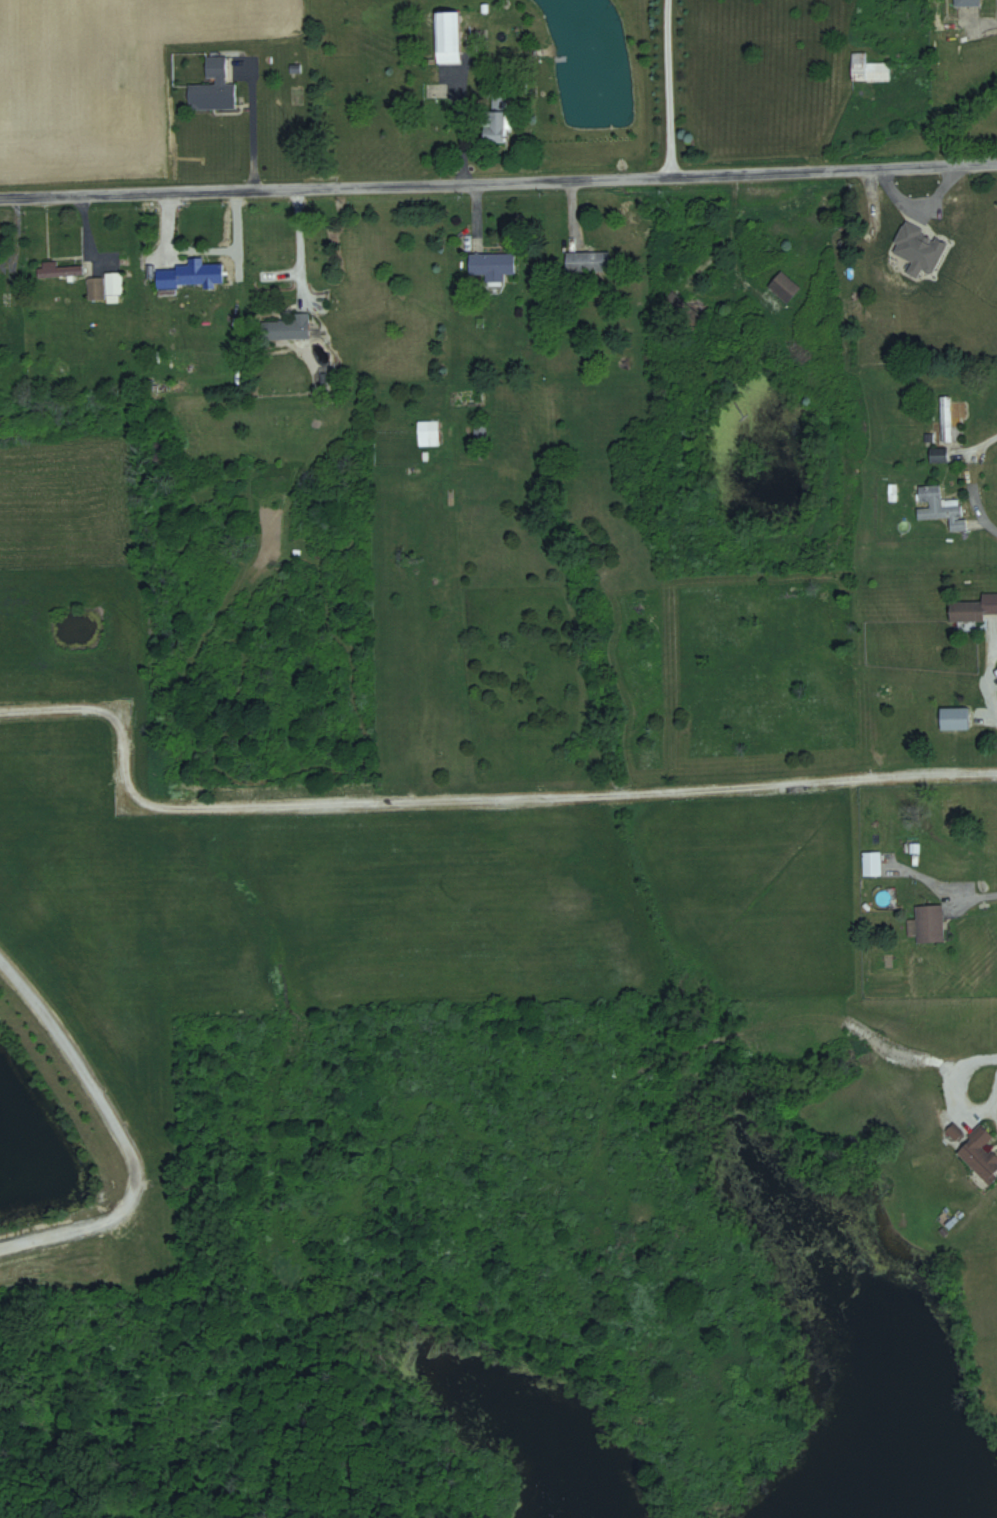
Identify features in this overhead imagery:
building: (970, 3)
building: (448, 38)
building: (869, 70)
road: (665, 87)
building: (213, 89)
road: (249, 120)
building: (495, 127)
road: (456, 129)
road: (498, 179)
road: (730, 224)
building: (953, 226)
road: (13, 231)
building: (588, 261)
building: (492, 264)
building: (58, 271)
building: (191, 275)
road: (266, 276)
building: (784, 286)
building: (106, 287)
building: (682, 310)
building: (288, 327)
building: (946, 423)
building: (429, 433)
building: (940, 507)
building: (974, 609)
road: (989, 677)
building: (955, 719)
road: (462, 803)
building: (872, 864)
road: (949, 893)
building: (930, 925)
road: (955, 1083)
road: (992, 1099)
road: (118, 1134)
building: (980, 1154)

